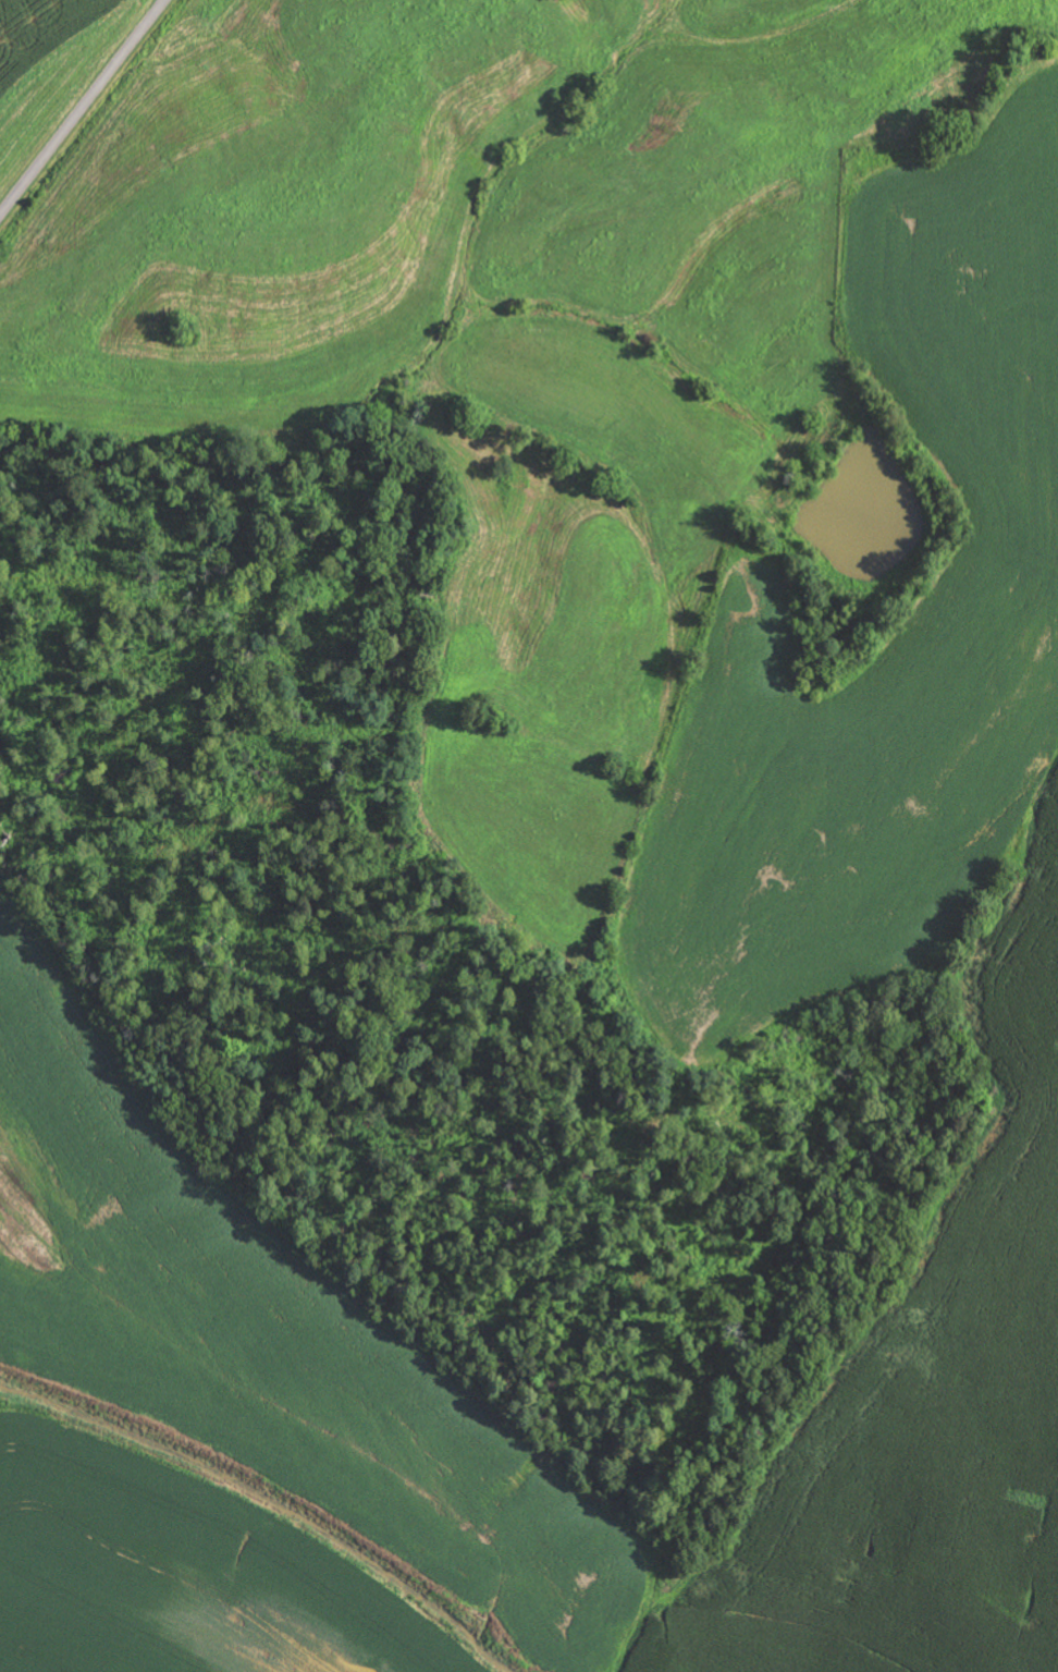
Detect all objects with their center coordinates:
road: (82, 107)

